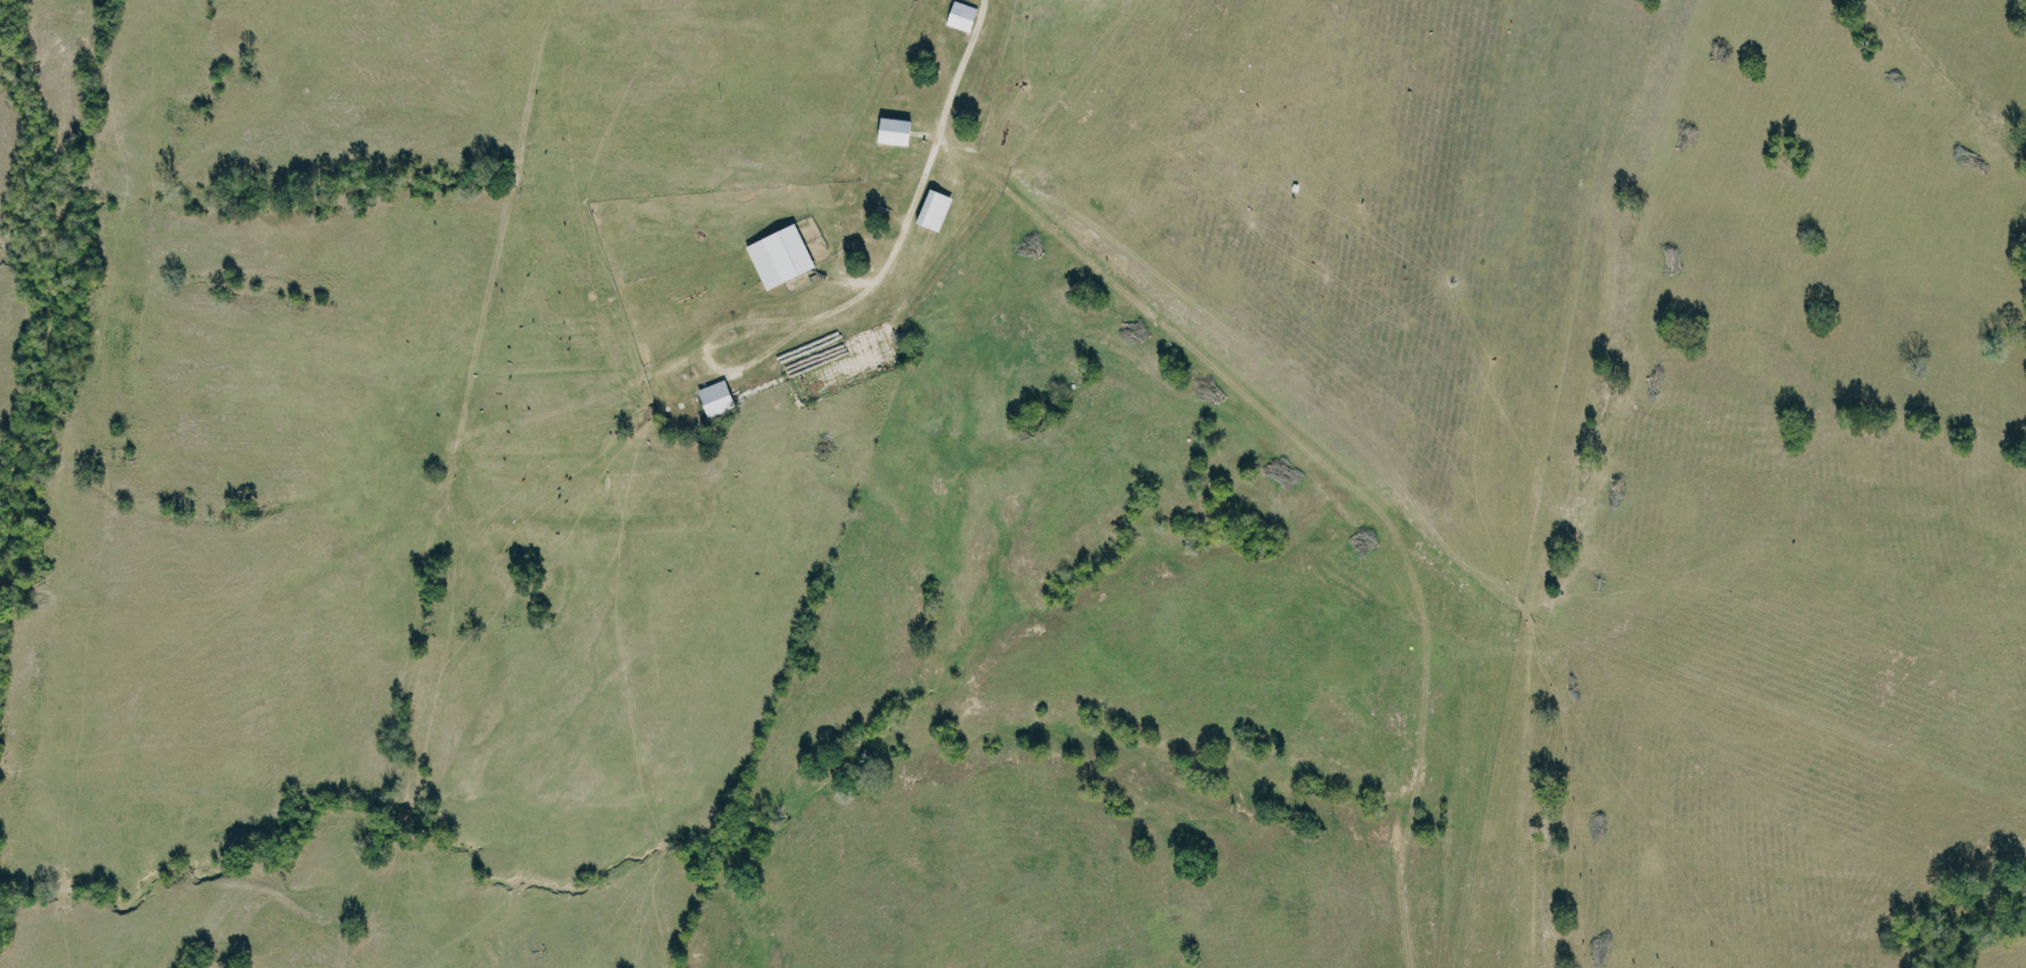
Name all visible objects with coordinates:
building: (966, 16)
building: (901, 131)
road: (920, 179)
building: (939, 210)
building: (785, 256)
road: (703, 353)
building: (721, 398)

